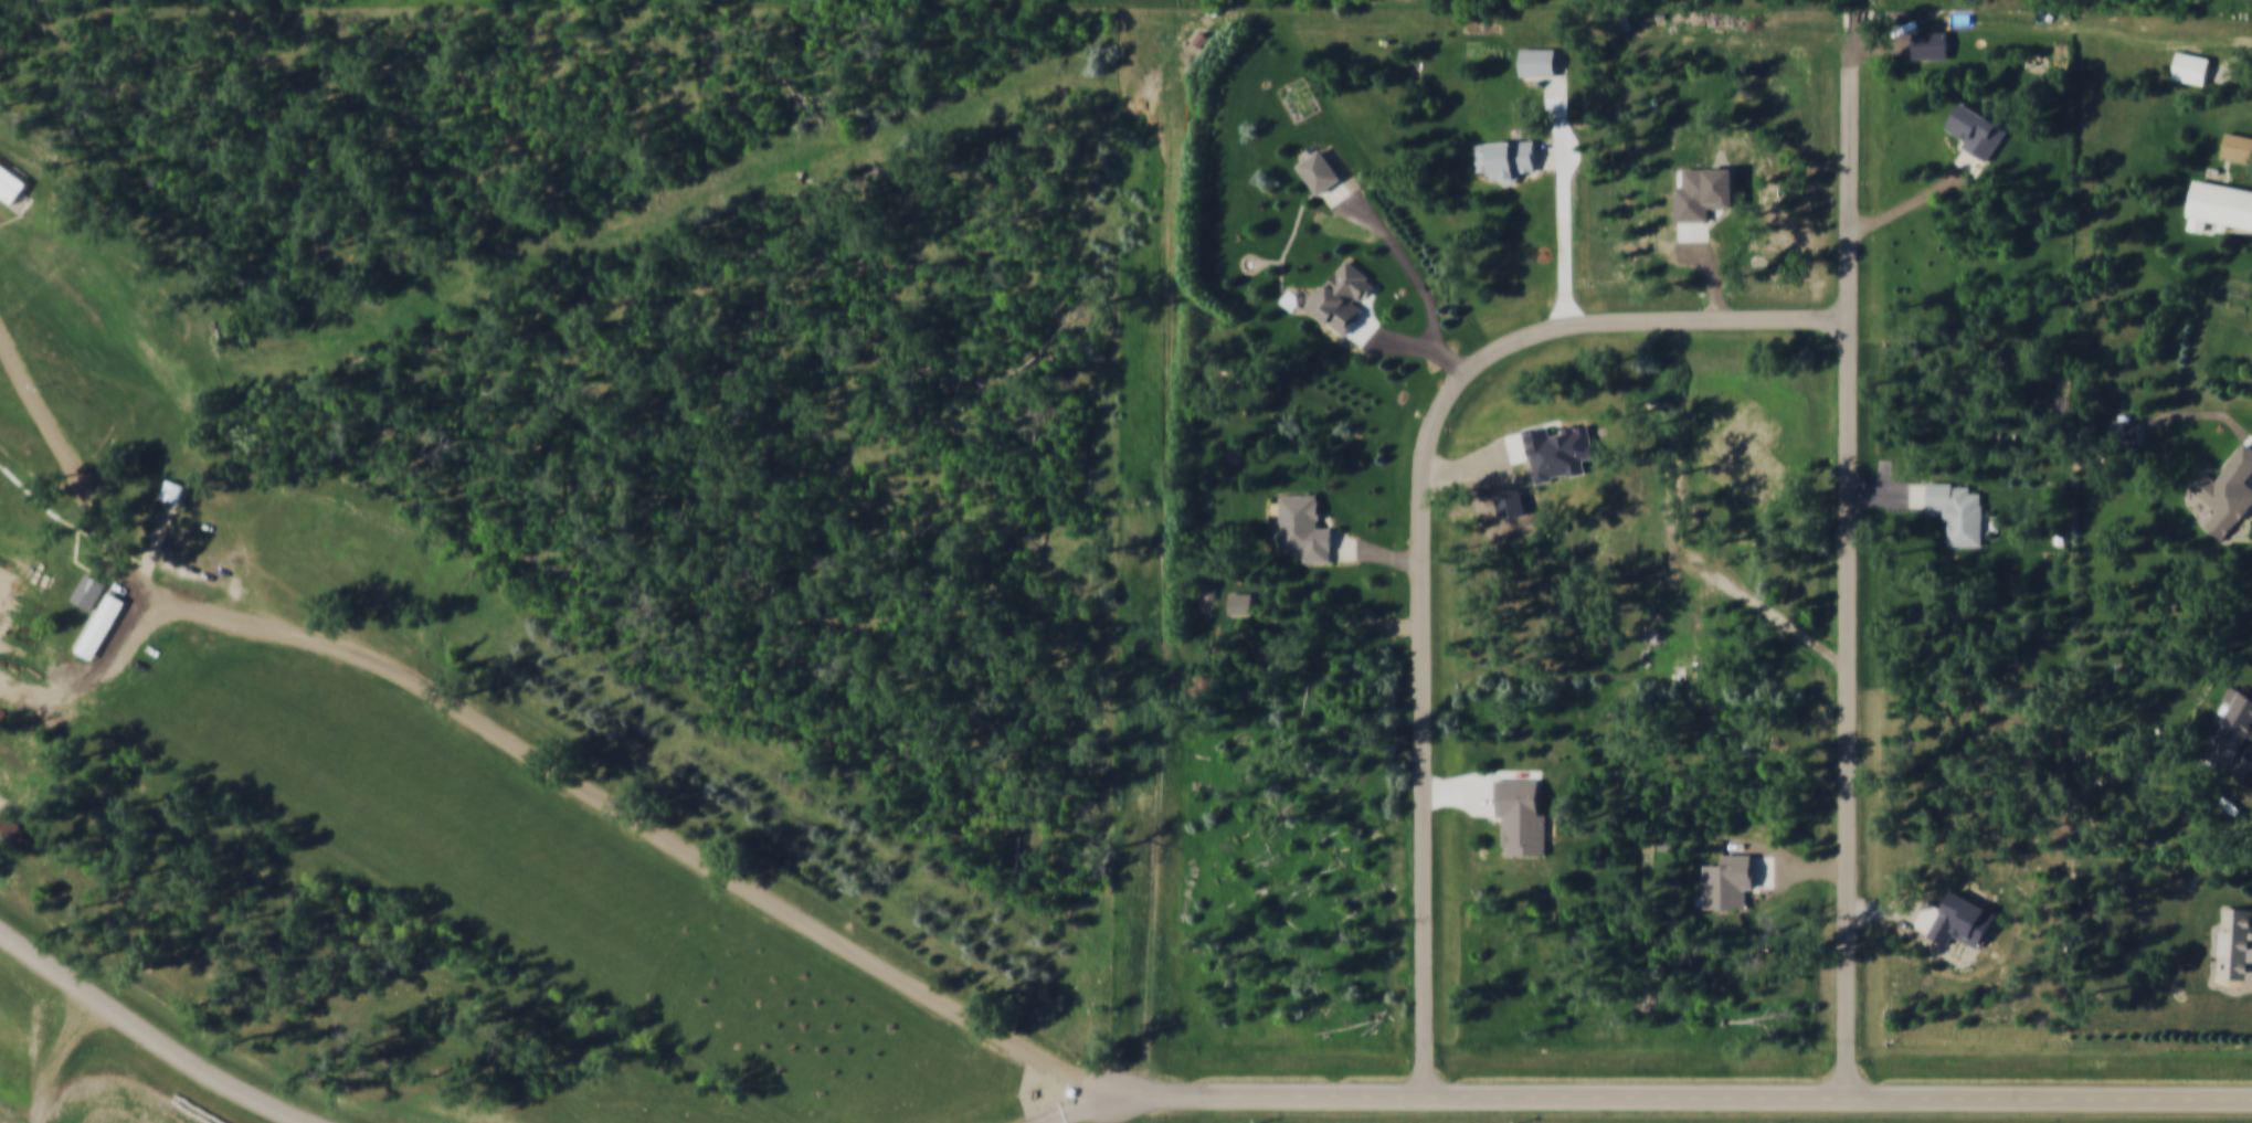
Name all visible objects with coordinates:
road: (2044, 27)
building: (1932, 44)
building: (1540, 61)
building: (2195, 67)
road: (1555, 114)
building: (1980, 130)
building: (2239, 147)
building: (1508, 159)
building: (1321, 170)
building: (11, 179)
road: (1918, 199)
building: (2223, 202)
road: (1565, 223)
road: (1400, 254)
road: (477, 278)
building: (1345, 295)
road: (1410, 341)
road: (2199, 416)
building: (2131, 432)
building: (1561, 452)
road: (1474, 466)
road: (1884, 479)
building: (173, 489)
building: (2230, 492)
road: (1889, 497)
building: (1962, 511)
building: (1304, 530)
road: (1421, 530)
building: (204, 540)
road: (1377, 552)
road: (1848, 565)
building: (88, 589)
building: (1241, 603)
road: (1772, 615)
road: (1338, 617)
building: (102, 621)
building: (2237, 730)
road: (1501, 775)
road: (1459, 795)
road: (603, 798)
building: (1523, 817)
building: (13, 823)
road: (1801, 872)
building: (1731, 882)
road: (1895, 909)
building: (1966, 922)
building: (2238, 946)
road: (151, 1037)
road: (34, 1046)
road: (1674, 1099)
road: (1071, 1114)

